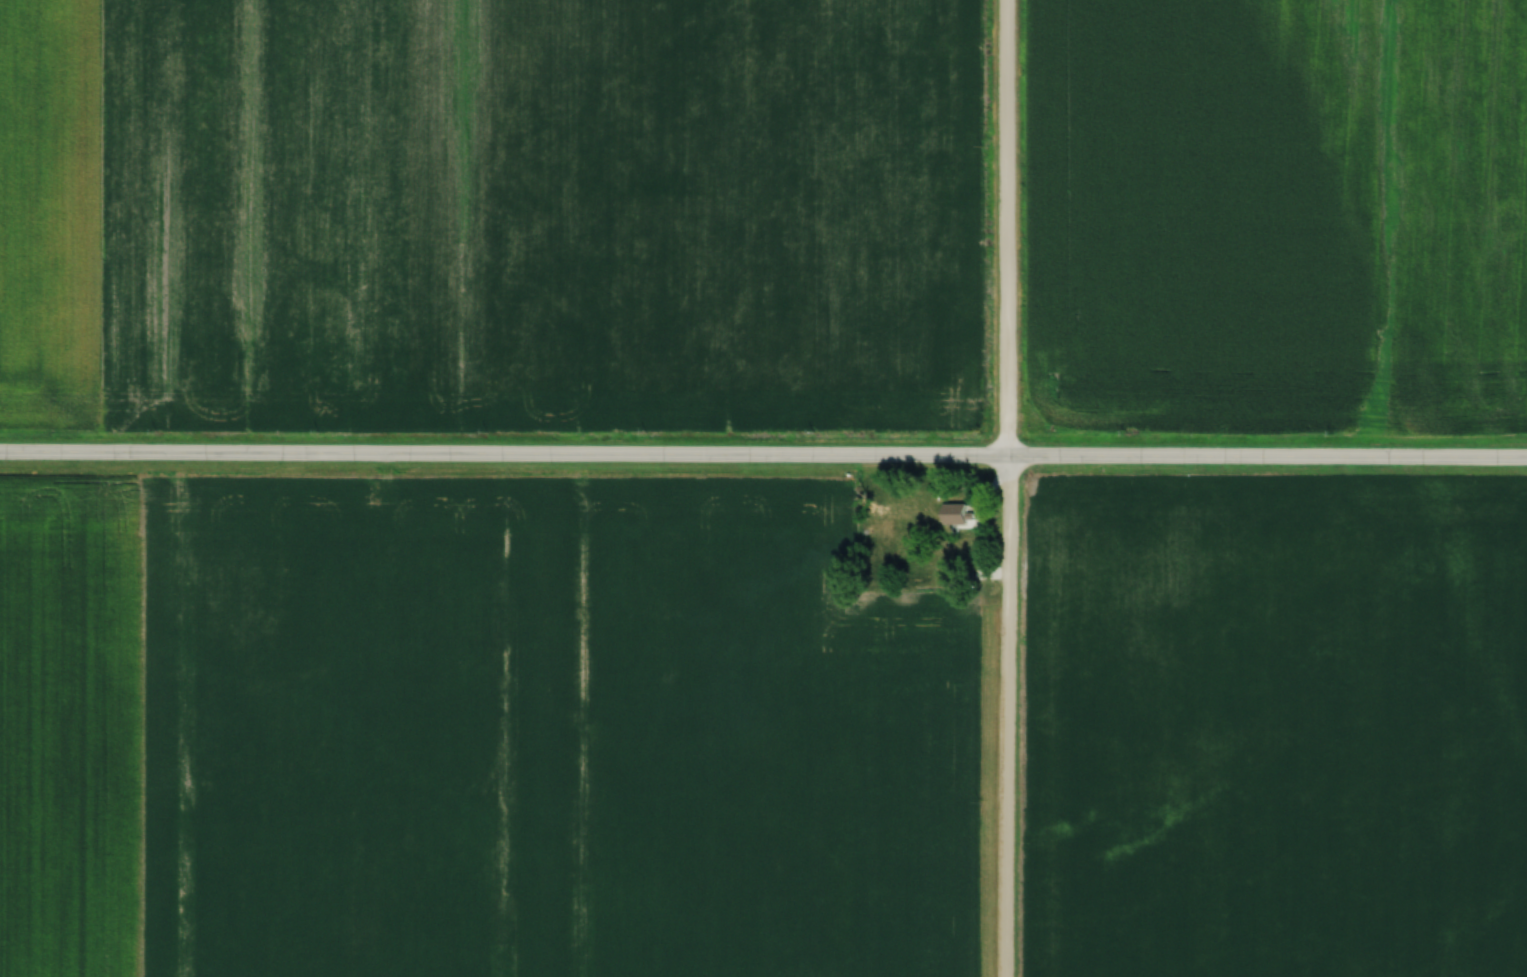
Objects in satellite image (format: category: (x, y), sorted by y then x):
road: (763, 461)
road: (1007, 488)
building: (953, 512)

